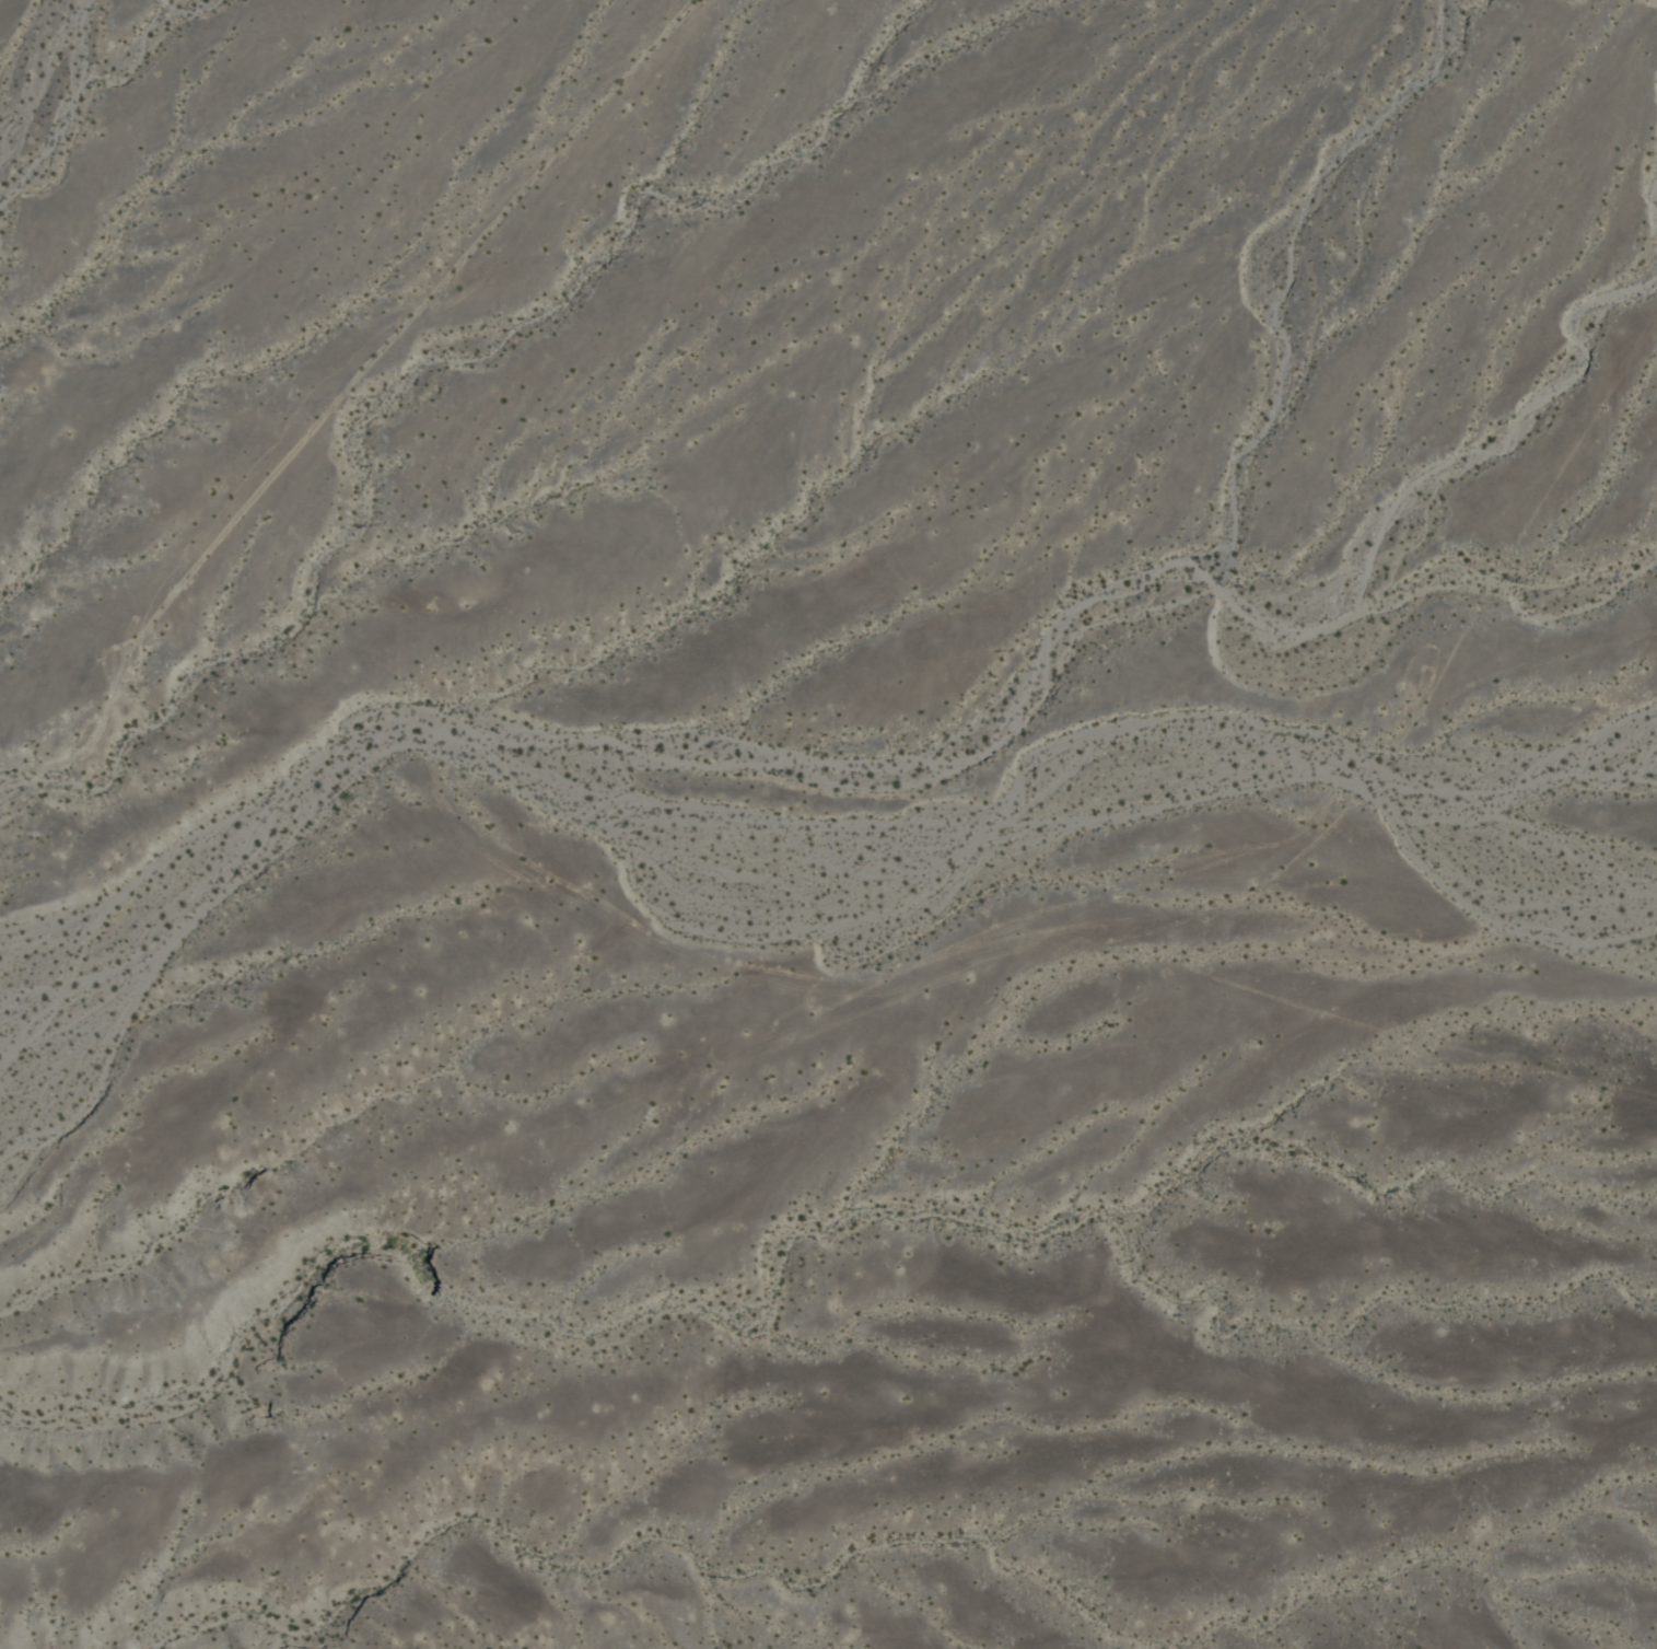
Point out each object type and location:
road: (417, 351)

